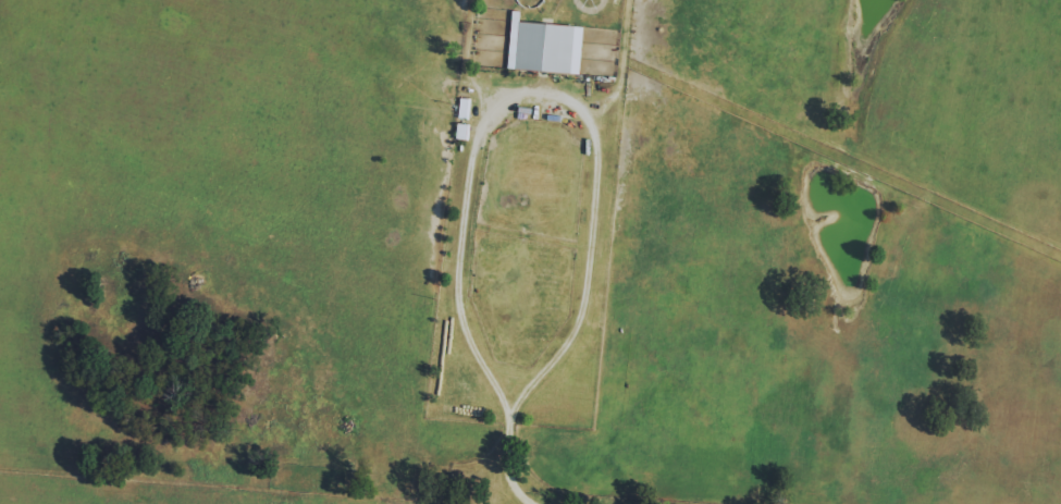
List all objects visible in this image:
building: (544, 46)
road: (542, 88)
road: (513, 469)

